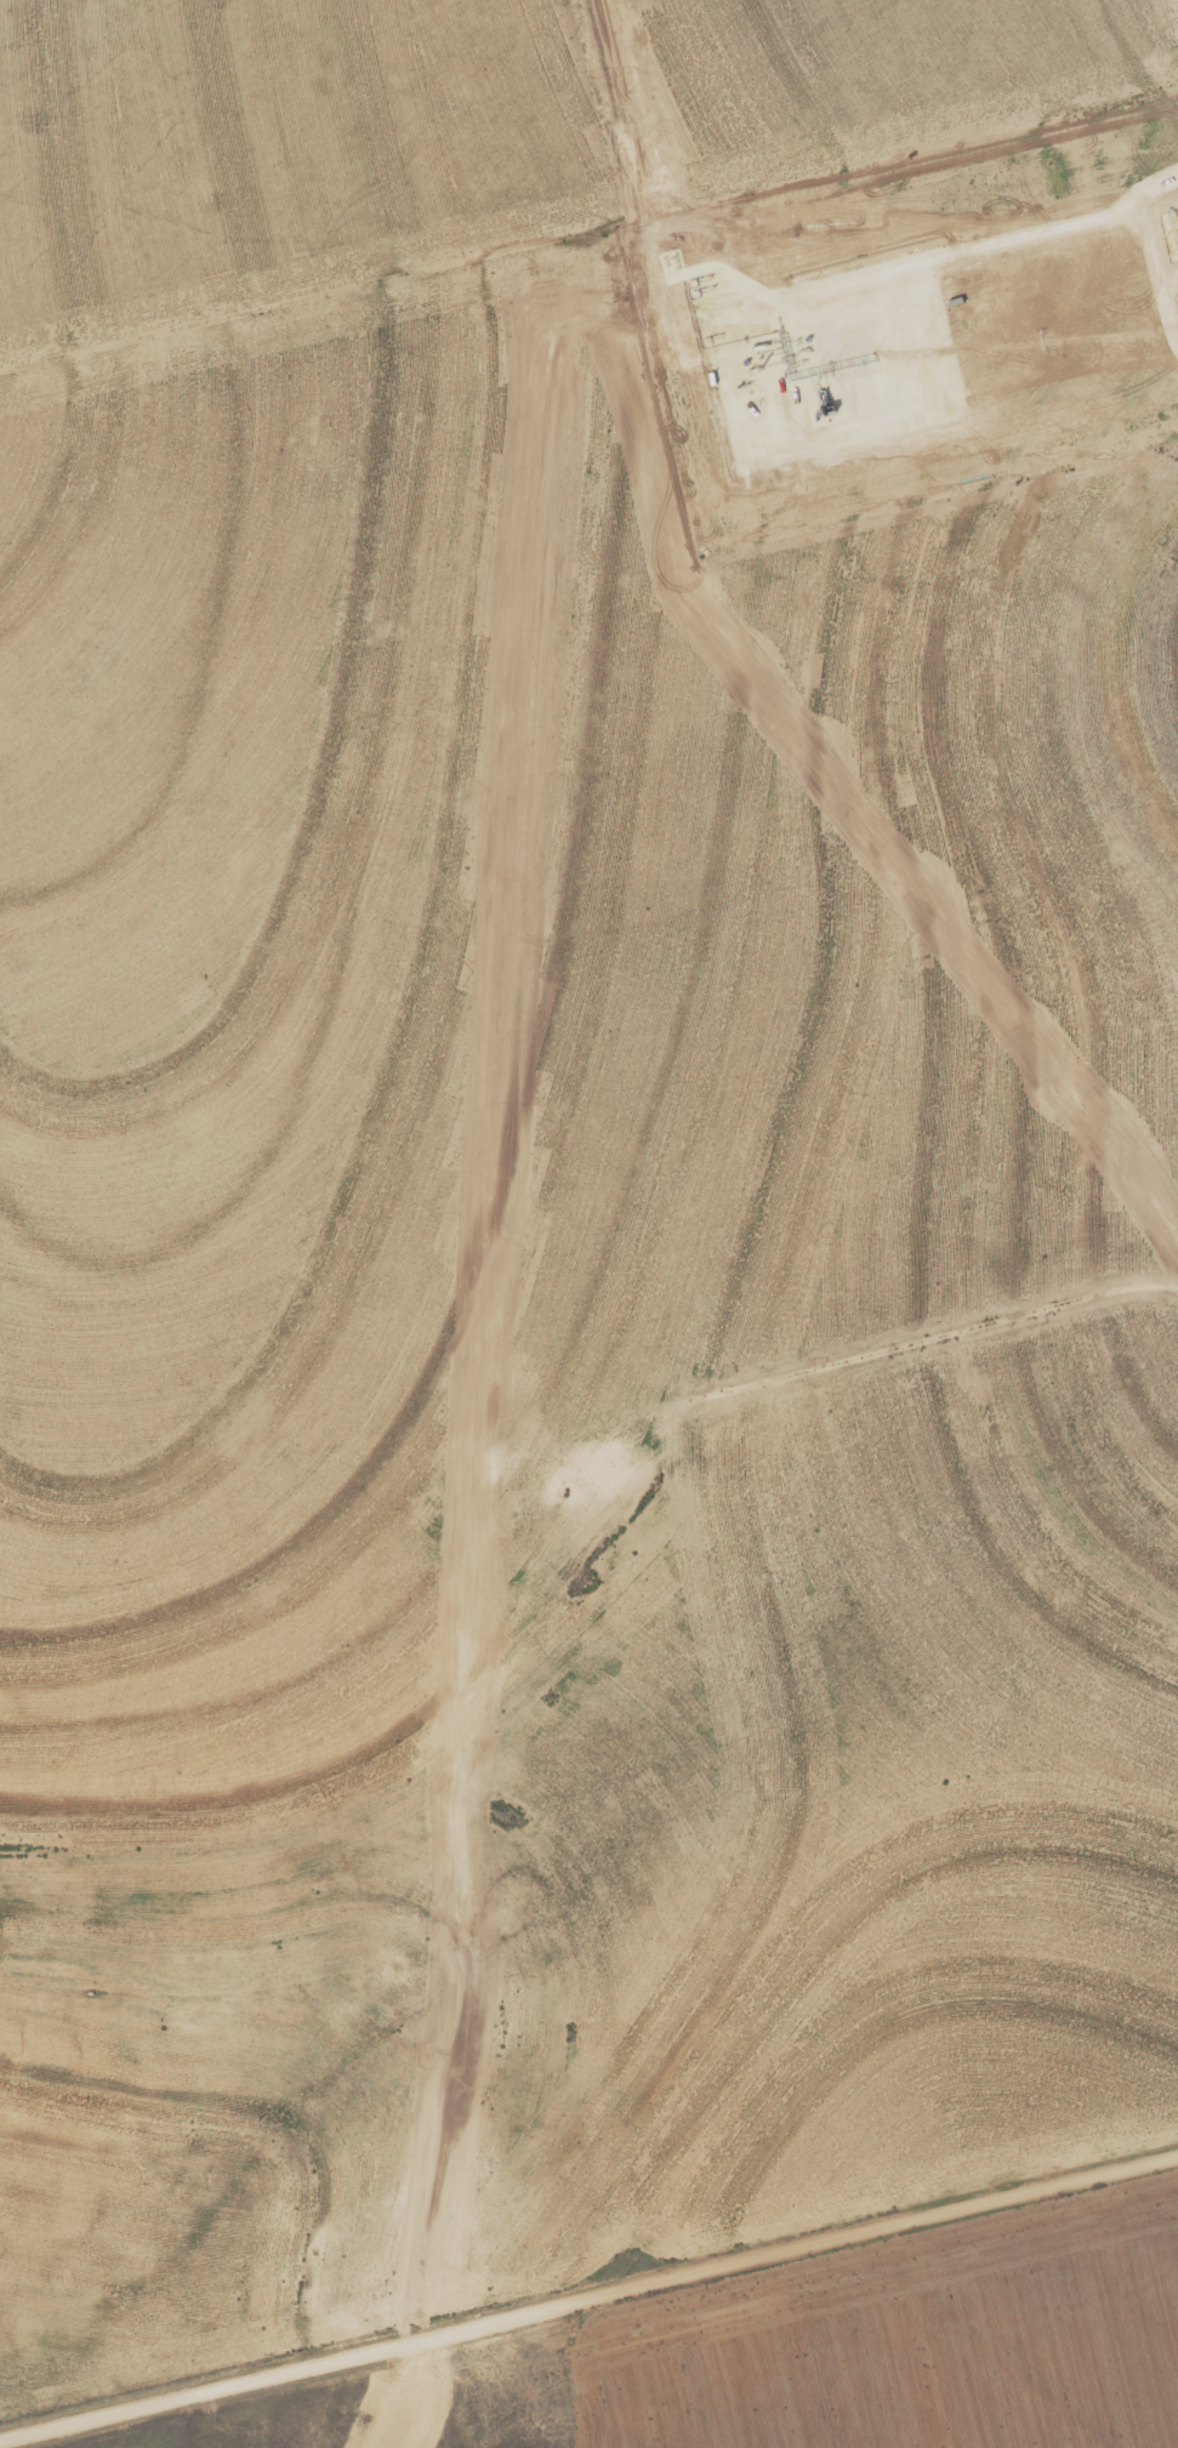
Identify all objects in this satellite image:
road: (932, 1354)
road: (588, 2295)

